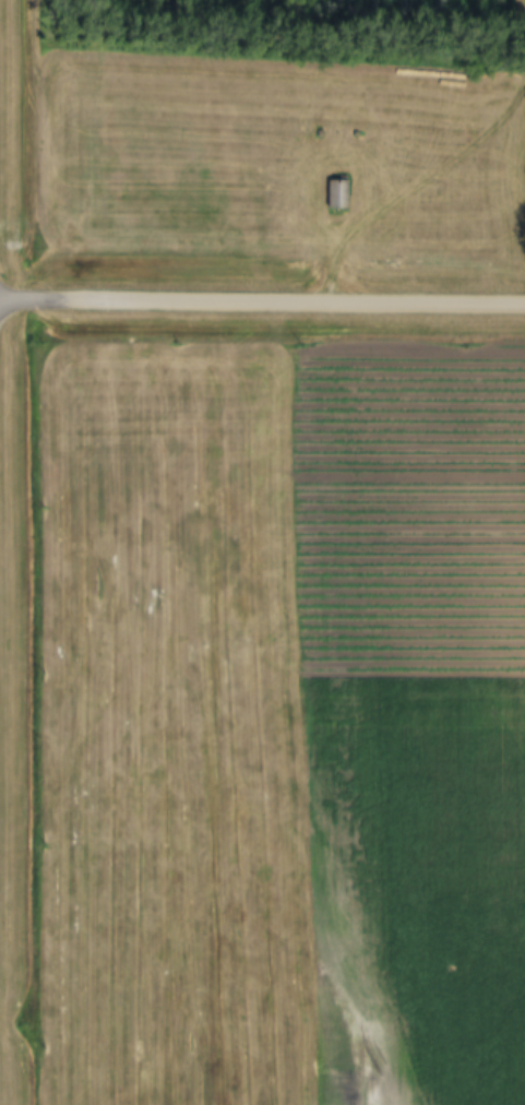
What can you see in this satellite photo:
building: (332, 195)
road: (262, 301)

